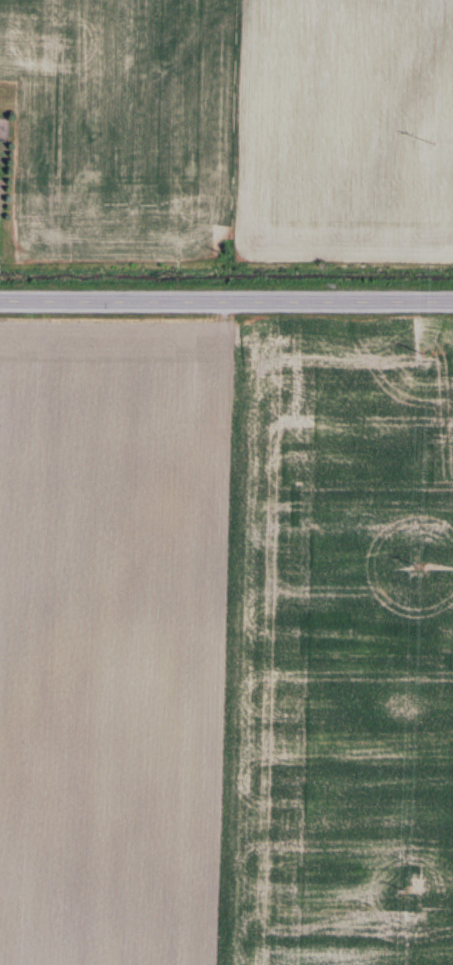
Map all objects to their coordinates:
power tower: (433, 141)
road: (226, 298)
power tower: (418, 563)
power tower: (404, 890)

